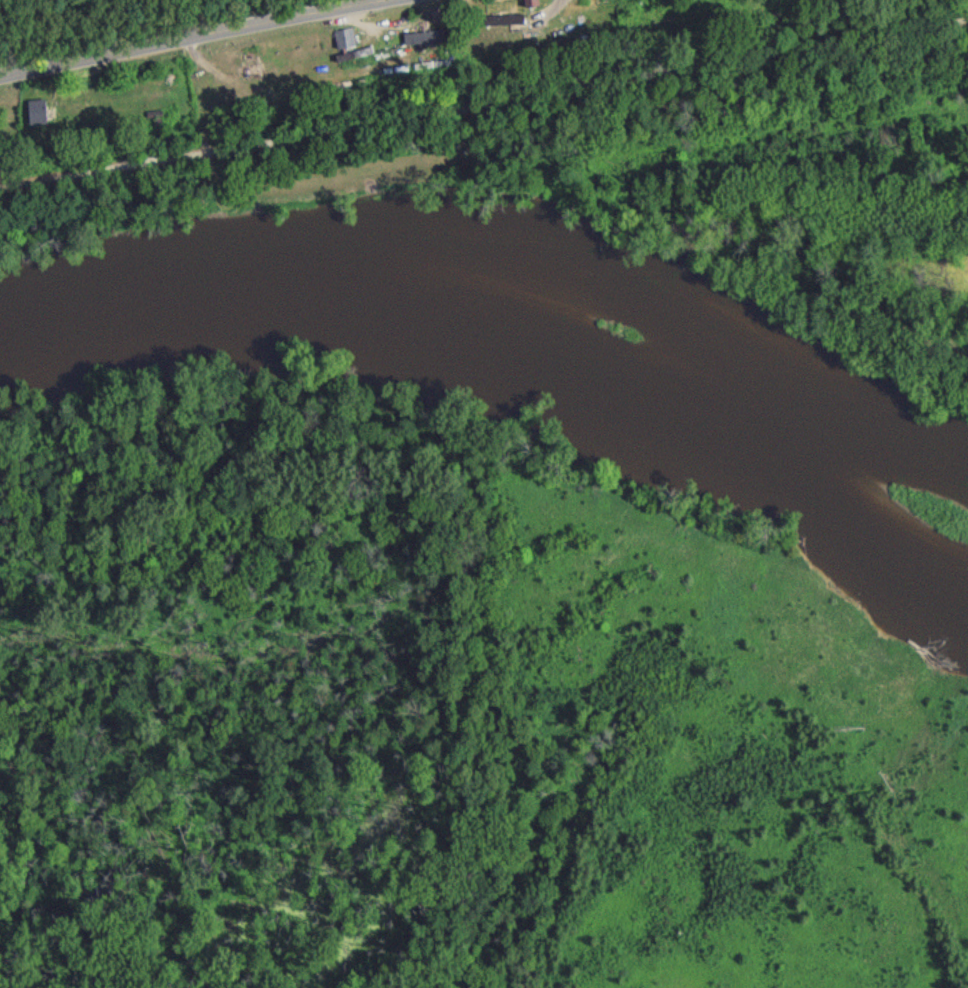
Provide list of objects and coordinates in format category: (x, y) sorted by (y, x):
building: (501, 25)
road: (193, 39)
building: (420, 43)
building: (342, 44)
road: (483, 105)
building: (34, 116)
river: (514, 347)

